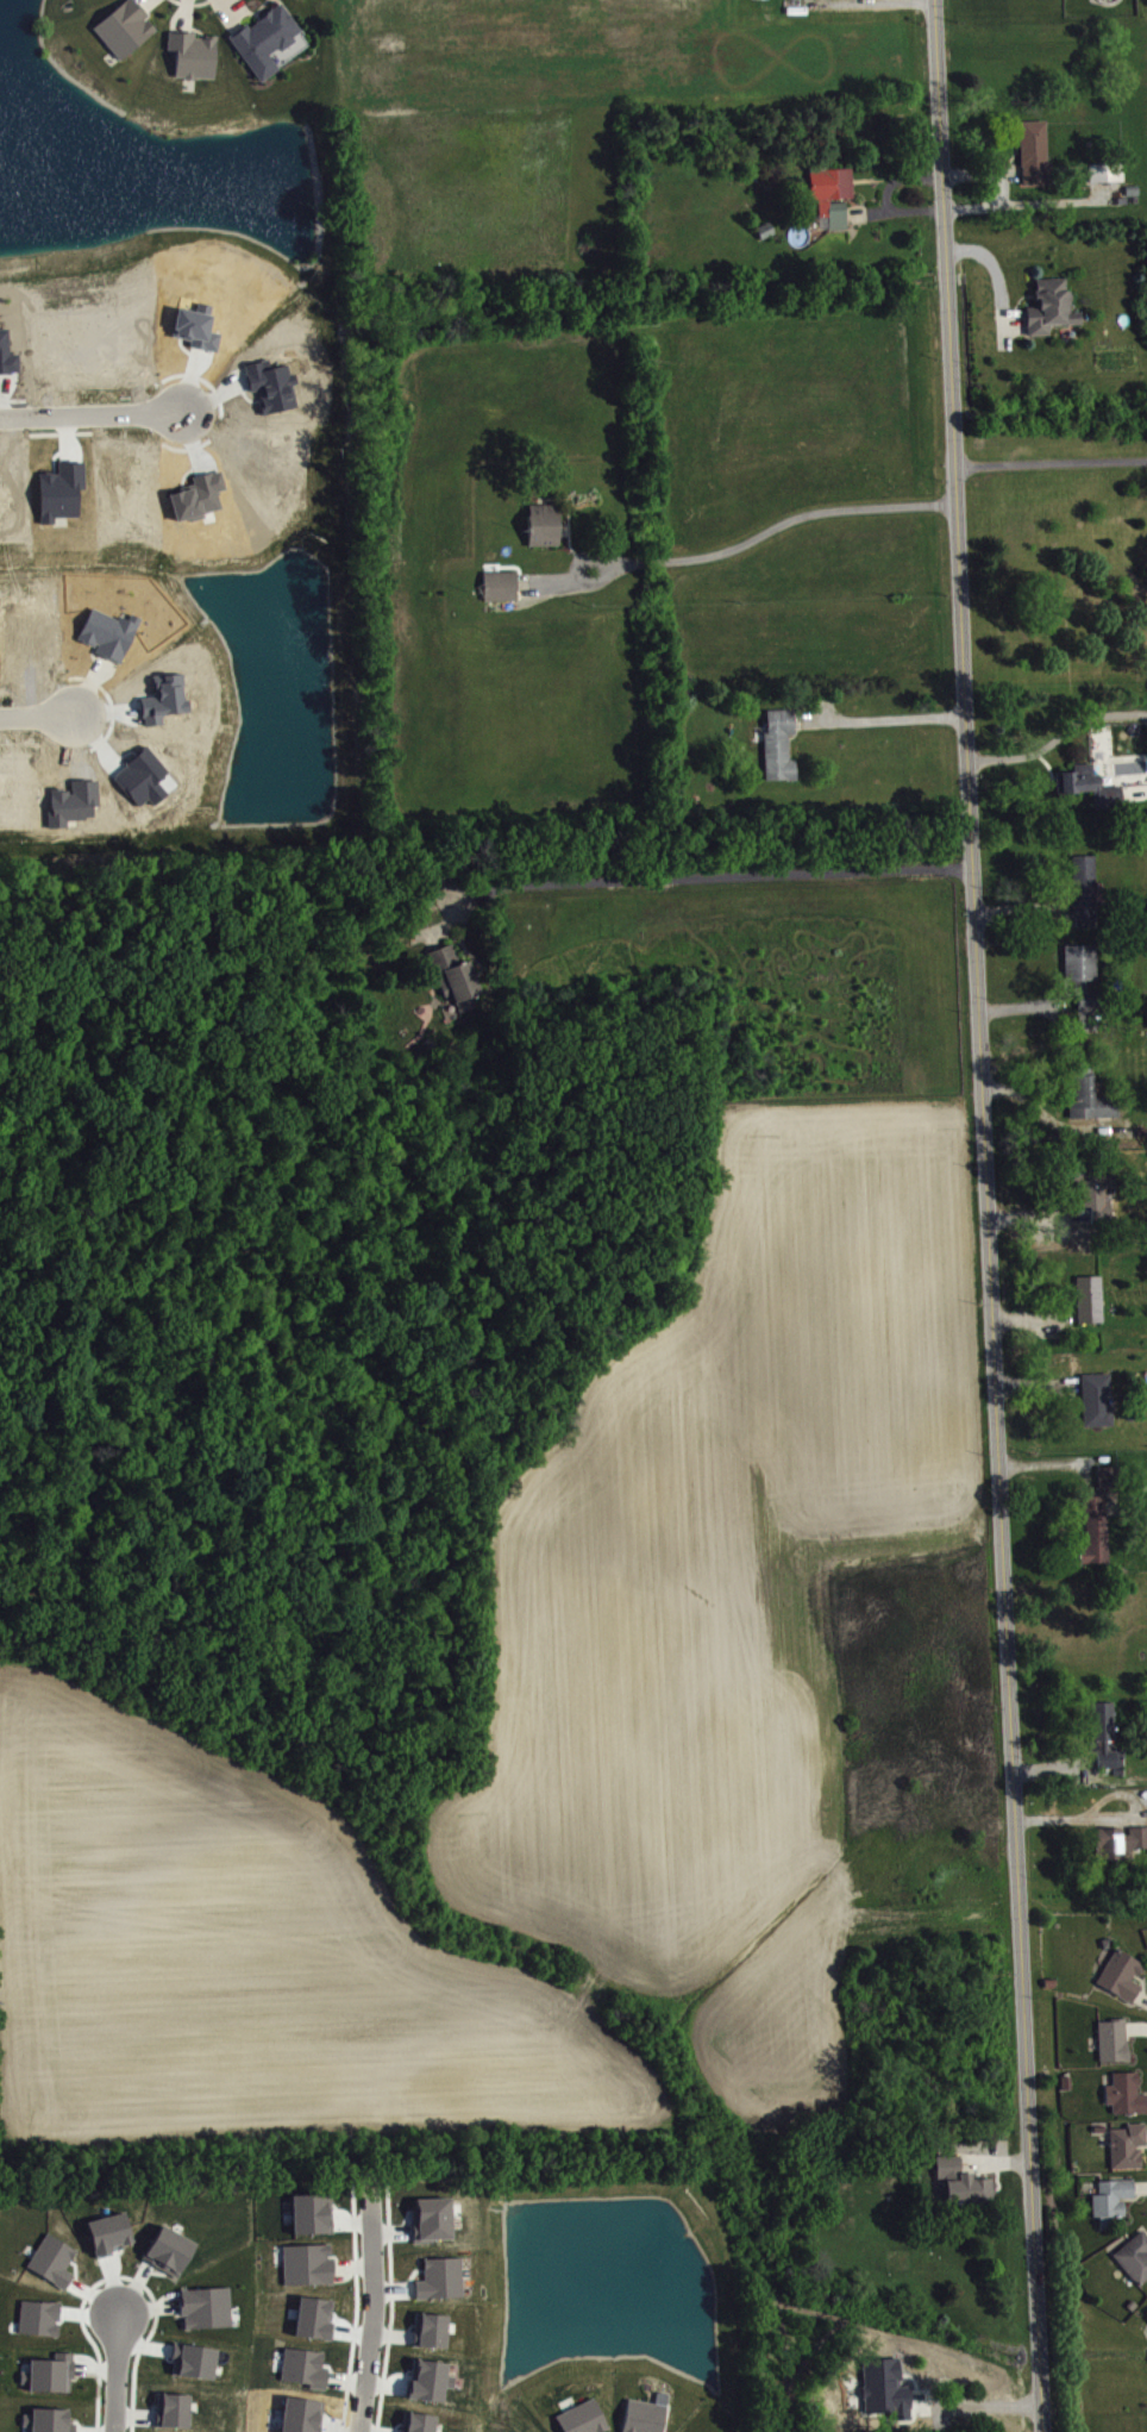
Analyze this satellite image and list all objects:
road: (864, 0)
road: (140, 2)
road: (192, 2)
road: (148, 10)
road: (244, 12)
road: (184, 14)
road: (225, 14)
building: (123, 26)
road: (195, 27)
building: (264, 37)
building: (192, 52)
building: (1032, 150)
building: (1105, 170)
road: (980, 171)
road: (898, 179)
road: (1003, 186)
building: (829, 192)
road: (1020, 201)
road: (894, 210)
building: (764, 229)
road: (997, 279)
building: (1048, 305)
road: (1013, 319)
road: (201, 375)
road: (12, 396)
road: (90, 413)
road: (61, 430)
road: (184, 445)
road: (1051, 461)
building: (541, 524)
road: (732, 548)
road: (547, 580)
building: (499, 582)
road: (109, 700)
road: (37, 714)
road: (879, 718)
road: (1058, 736)
building: (777, 743)
building: (1088, 783)
road: (1134, 789)
road: (684, 875)
building: (1083, 886)
road: (1020, 911)
road: (432, 938)
building: (1079, 963)
building: (452, 974)
road: (1020, 1005)
building: (1086, 1094)
road: (1048, 1117)
building: (1093, 1189)
road: (986, 1215)
road: (1034, 1217)
building: (1088, 1296)
road: (1032, 1317)
road: (1033, 1382)
building: (1095, 1398)
road: (1051, 1462)
building: (1105, 1476)
building: (1093, 1530)
crop: (727, 1589)
building: (1103, 1733)
road: (1051, 1765)
road: (1115, 1818)
building: (1118, 1838)
crop: (250, 1959)
building: (1123, 1978)
building: (1116, 2044)
building: (1128, 2096)
building: (1130, 2149)
road: (995, 2161)
building: (960, 2178)
building: (1114, 2202)
building: (315, 2217)
building: (435, 2222)
building: (112, 2236)
building: (173, 2253)
building: (1136, 2261)
building: (56, 2264)
building: (444, 2282)
building: (209, 2311)
building: (433, 2333)
road: (372, 2345)
building: (307, 2370)
road: (117, 2371)
building: (54, 2377)
road: (977, 2402)
building: (650, 2417)
building: (585, 2420)
building: (51, 2422)

